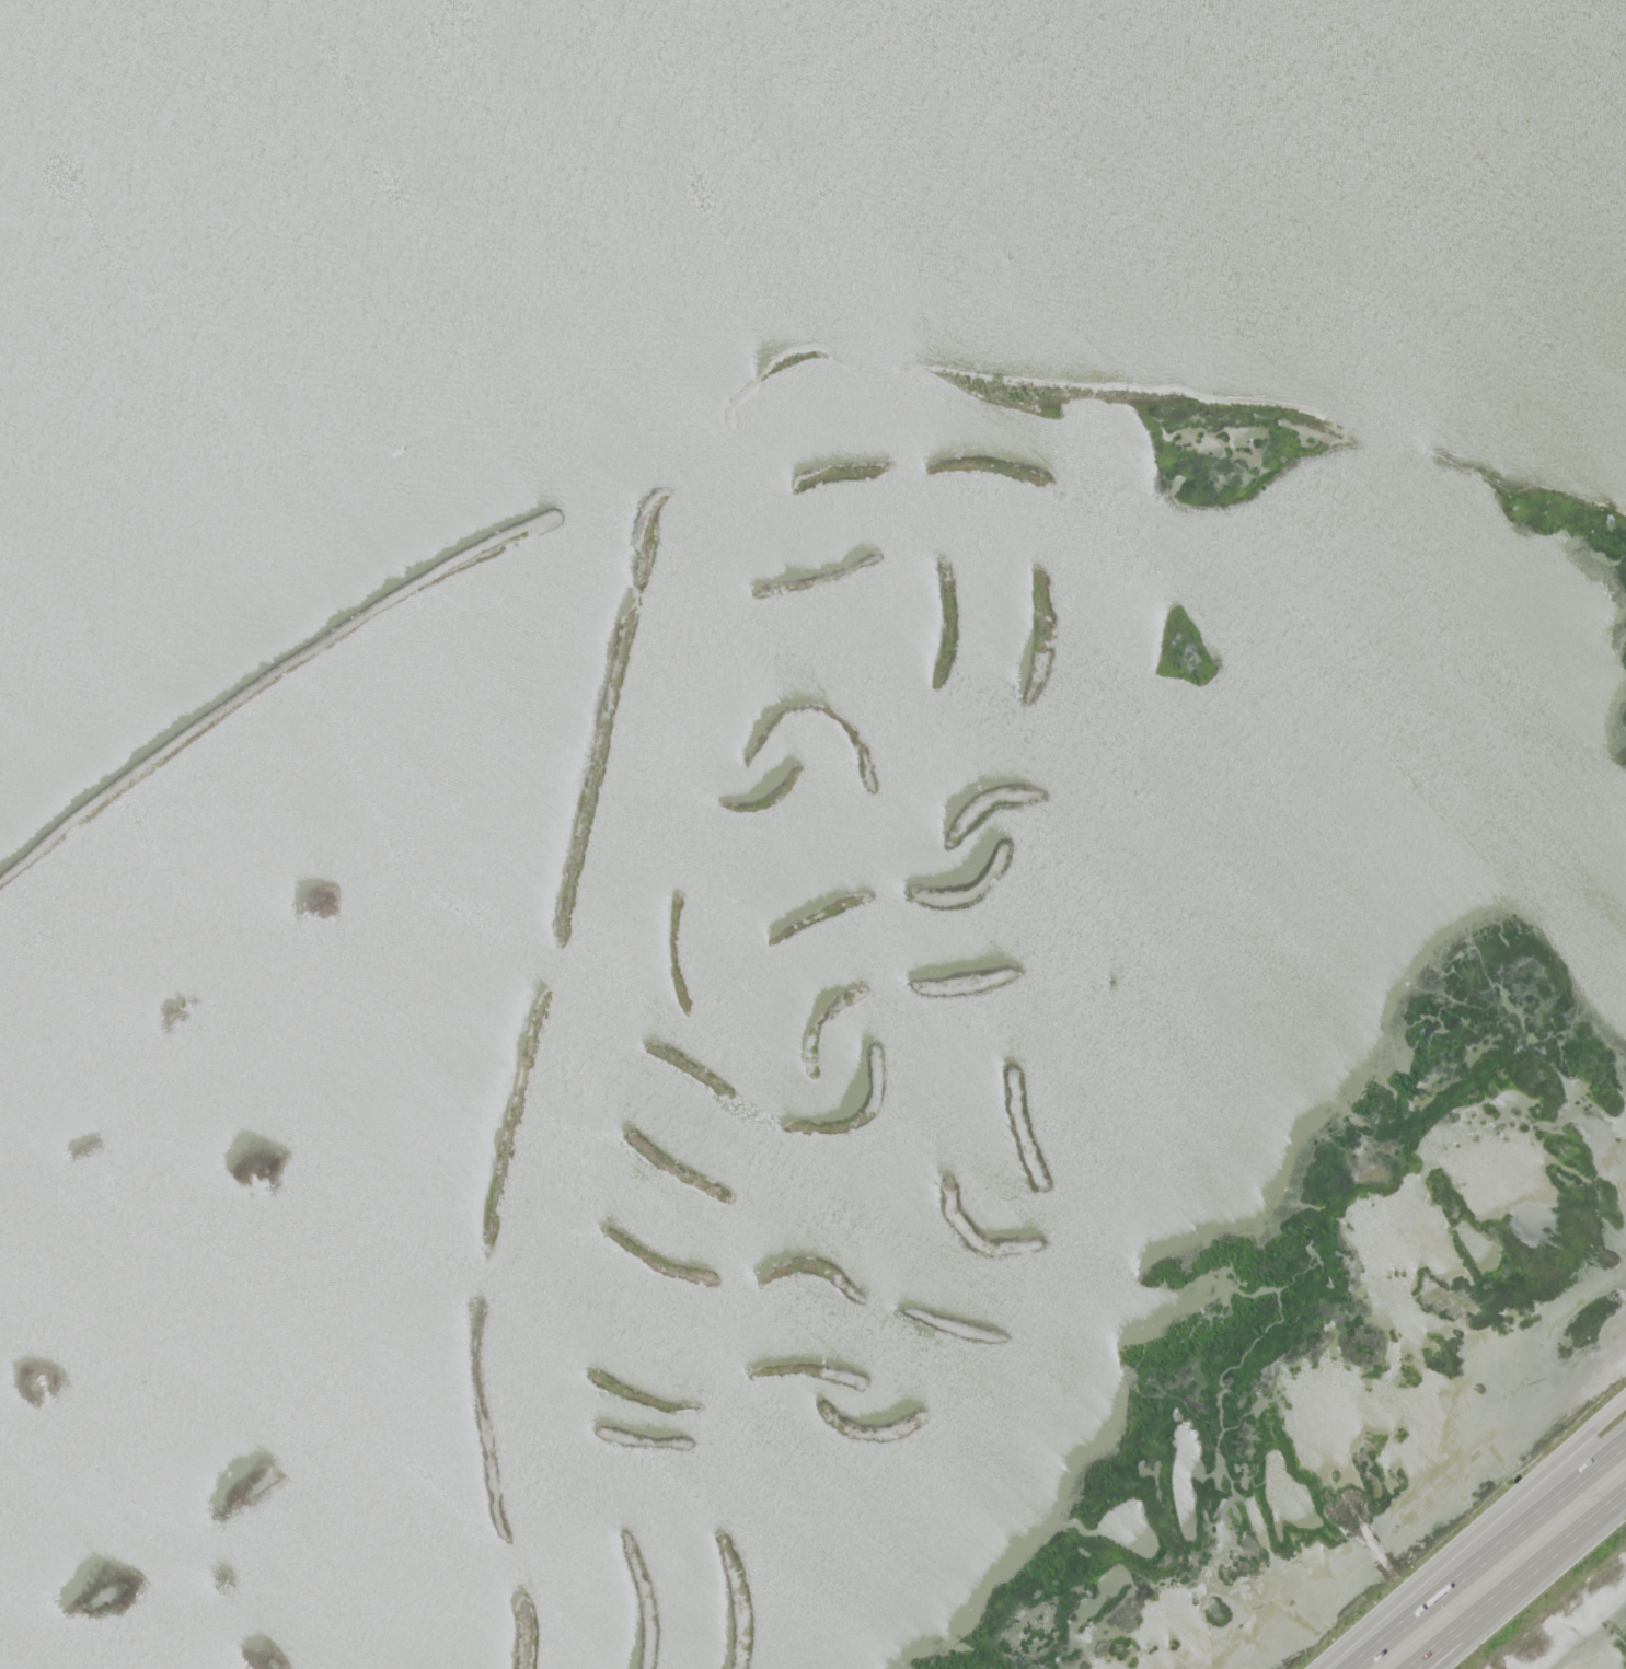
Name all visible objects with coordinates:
road: (1472, 1534)
road: (1486, 1553)
road: (1518, 1580)
road: (1511, 1593)

